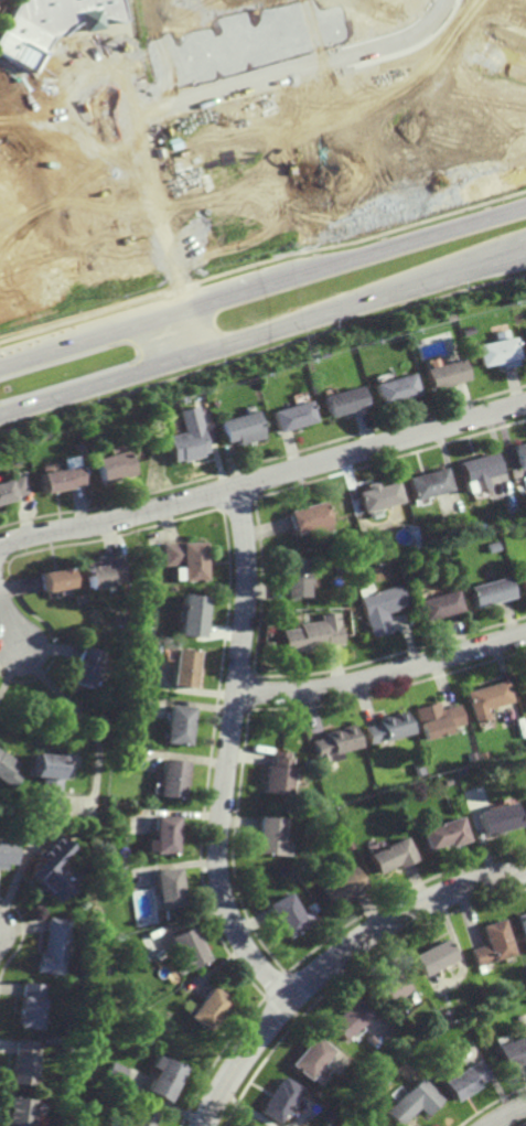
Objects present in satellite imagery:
road: (224, 6)
road: (161, 31)
building: (42, 32)
road: (235, 40)
road: (172, 62)
road: (226, 85)
road: (265, 98)
road: (236, 160)
road: (373, 176)
road: (107, 250)
road: (68, 261)
road: (264, 289)
building: (451, 315)
road: (262, 335)
building: (498, 351)
building: (448, 374)
building: (397, 388)
building: (345, 401)
building: (294, 416)
building: (244, 428)
building: (189, 437)
building: (94, 449)
building: (520, 454)
building: (116, 467)
building: (479, 470)
building: (62, 476)
road: (264, 480)
building: (429, 484)
building: (11, 489)
building: (379, 496)
building: (310, 517)
building: (493, 545)
building: (356, 550)
building: (186, 559)
building: (106, 571)
building: (294, 575)
building: (60, 578)
building: (523, 579)
building: (491, 591)
building: (82, 598)
building: (438, 604)
building: (380, 608)
building: (190, 612)
road: (12, 613)
building: (125, 616)
building: (310, 634)
building: (139, 646)
building: (89, 663)
building: (182, 665)
road: (383, 676)
building: (524, 680)
building: (525, 696)
building: (485, 698)
road: (80, 719)
building: (436, 719)
building: (175, 722)
building: (386, 727)
building: (332, 743)
road: (227, 753)
building: (482, 754)
building: (471, 757)
building: (9, 768)
building: (417, 769)
building: (276, 773)
building: (461, 773)
building: (51, 776)
building: (169, 778)
building: (444, 782)
building: (315, 802)
building: (525, 802)
building: (112, 806)
building: (498, 816)
building: (443, 833)
building: (164, 834)
building: (269, 836)
building: (346, 844)
building: (7, 851)
building: (390, 855)
building: (54, 869)
building: (341, 886)
building: (168, 887)
building: (310, 908)
building: (283, 914)
building: (523, 923)
building: (494, 943)
building: (56, 946)
building: (185, 951)
building: (436, 956)
road: (335, 961)
building: (520, 982)
building: (387, 987)
building: (74, 989)
building: (32, 1006)
building: (208, 1008)
building: (447, 1014)
building: (110, 1017)
building: (348, 1019)
building: (49, 1040)
building: (71, 1047)
building: (513, 1052)
building: (309, 1058)
building: (25, 1062)
building: (116, 1073)
building: (165, 1079)
building: (465, 1080)
building: (356, 1084)
building: (277, 1101)
building: (415, 1101)
building: (23, 1112)
road: (507, 1114)
building: (141, 1116)

